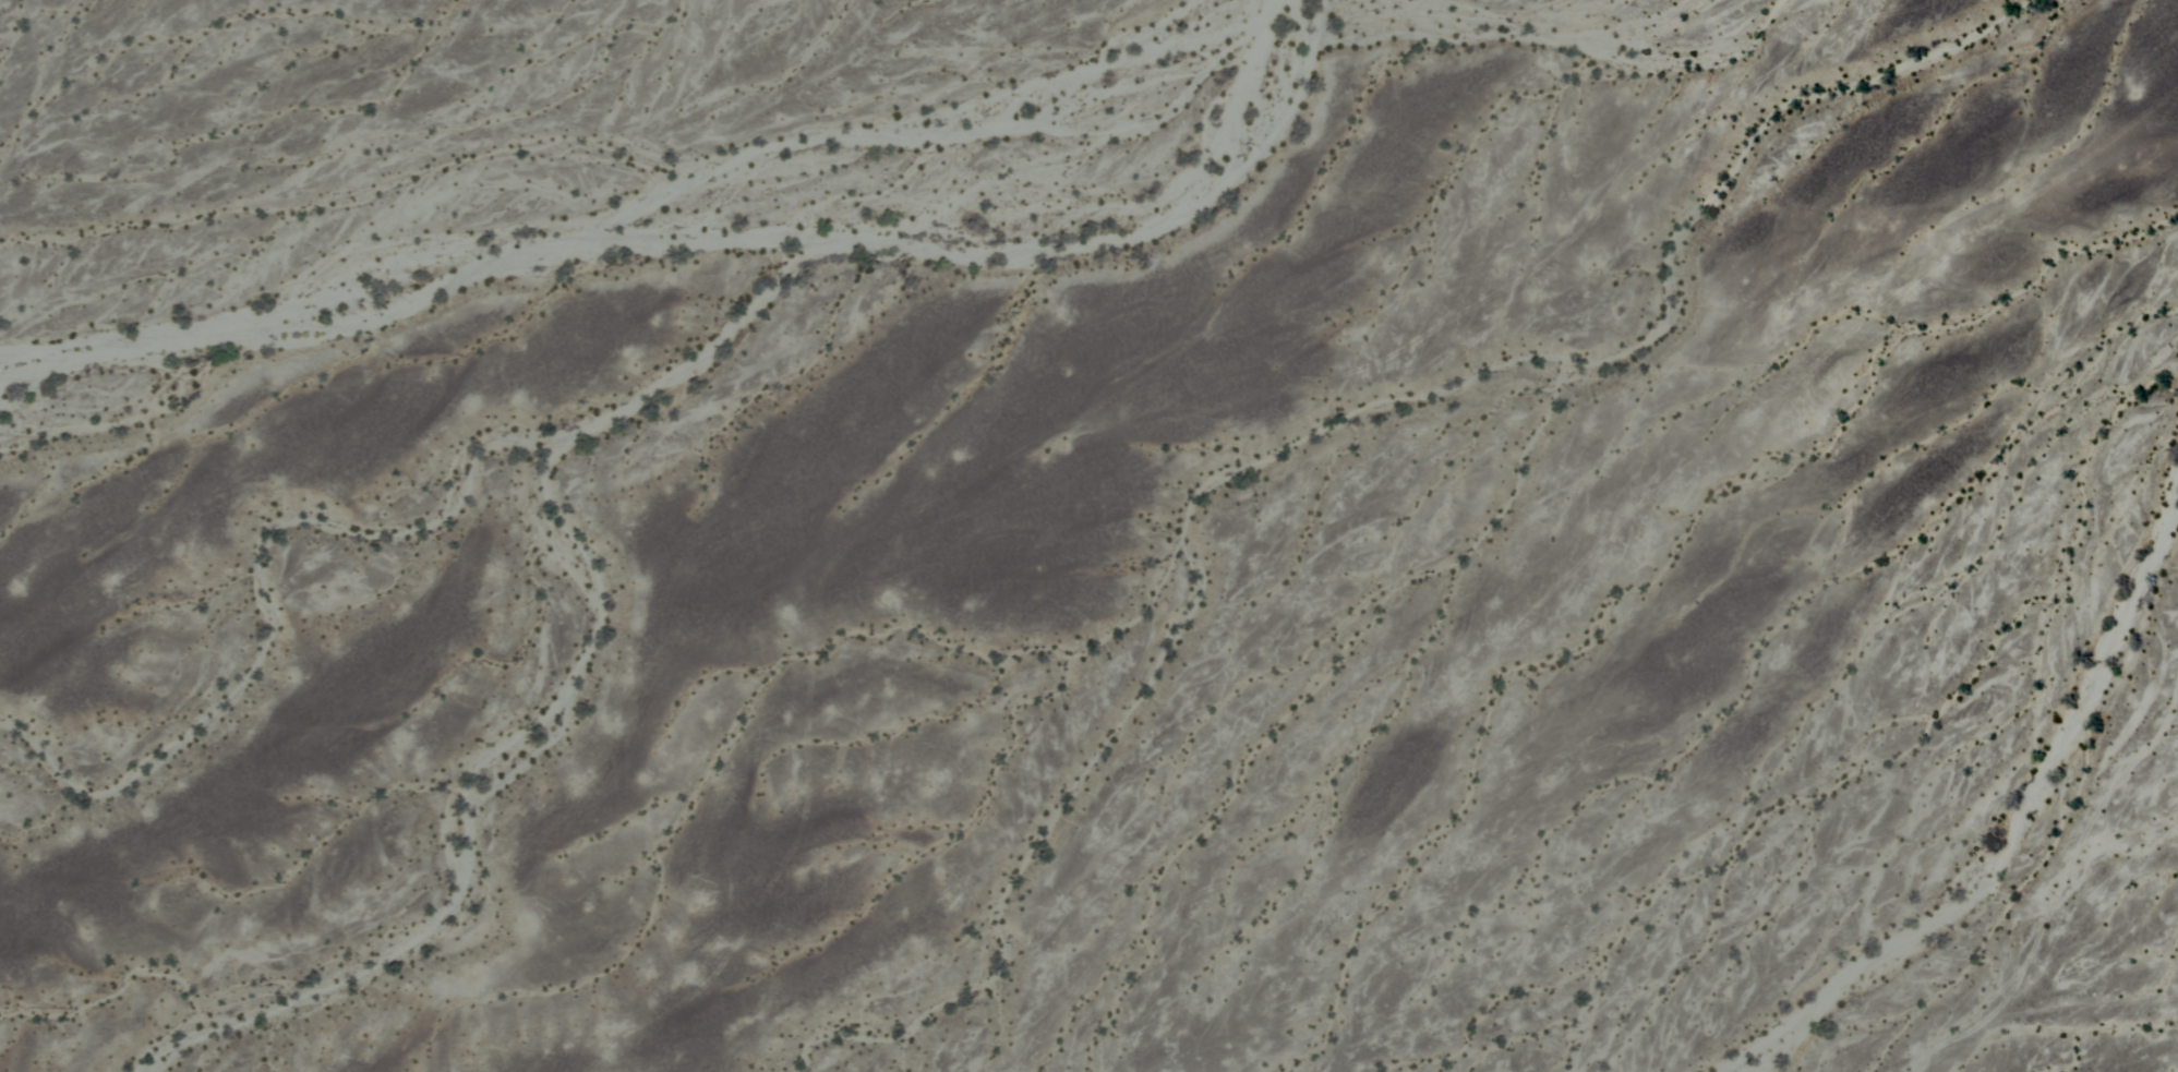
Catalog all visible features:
road: (2056, 904)

